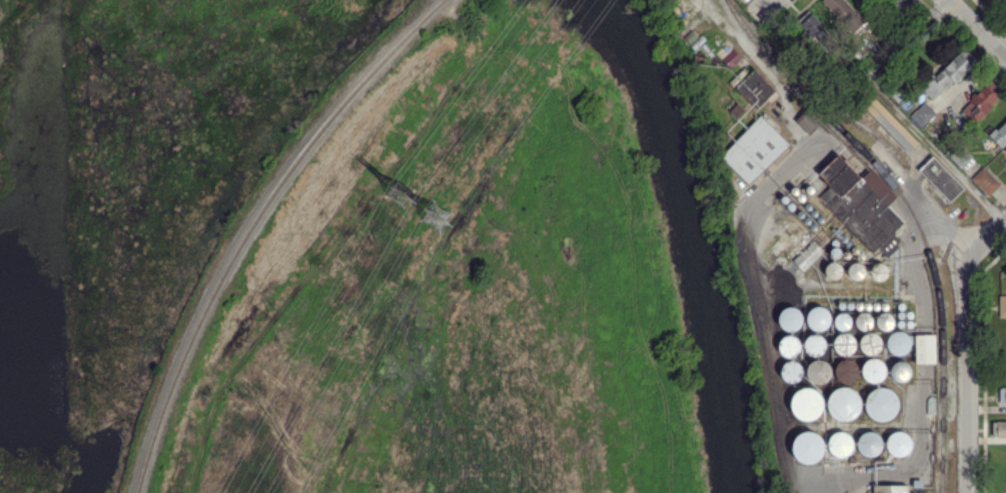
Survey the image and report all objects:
building: (1004, 1)
building: (900, 3)
road: (769, 9)
building: (844, 13)
building: (812, 26)
road: (977, 29)
road: (906, 39)
building: (731, 57)
building: (947, 74)
building: (757, 84)
building: (980, 102)
building: (922, 114)
building: (806, 122)
building: (889, 123)
railway: (863, 126)
building: (999, 134)
building: (754, 149)
building: (1005, 149)
road: (935, 152)
building: (940, 178)
building: (985, 180)
power tower: (402, 194)
building: (861, 204)
power tower: (438, 212)
railway: (912, 214)
railway: (253, 224)
river: (693, 235)
building: (807, 255)
building: (1002, 306)
building: (789, 318)
building: (884, 320)
building: (898, 341)
building: (869, 342)
building: (924, 349)
road: (967, 350)
building: (789, 359)
building: (872, 369)
building: (845, 370)
building: (899, 371)
road: (778, 396)
building: (1002, 396)
building: (806, 403)
building: (842, 403)
building: (880, 404)
building: (1001, 429)
building: (899, 442)
building: (839, 443)
building: (869, 444)
building: (807, 447)
road: (823, 484)
building: (889, 488)

